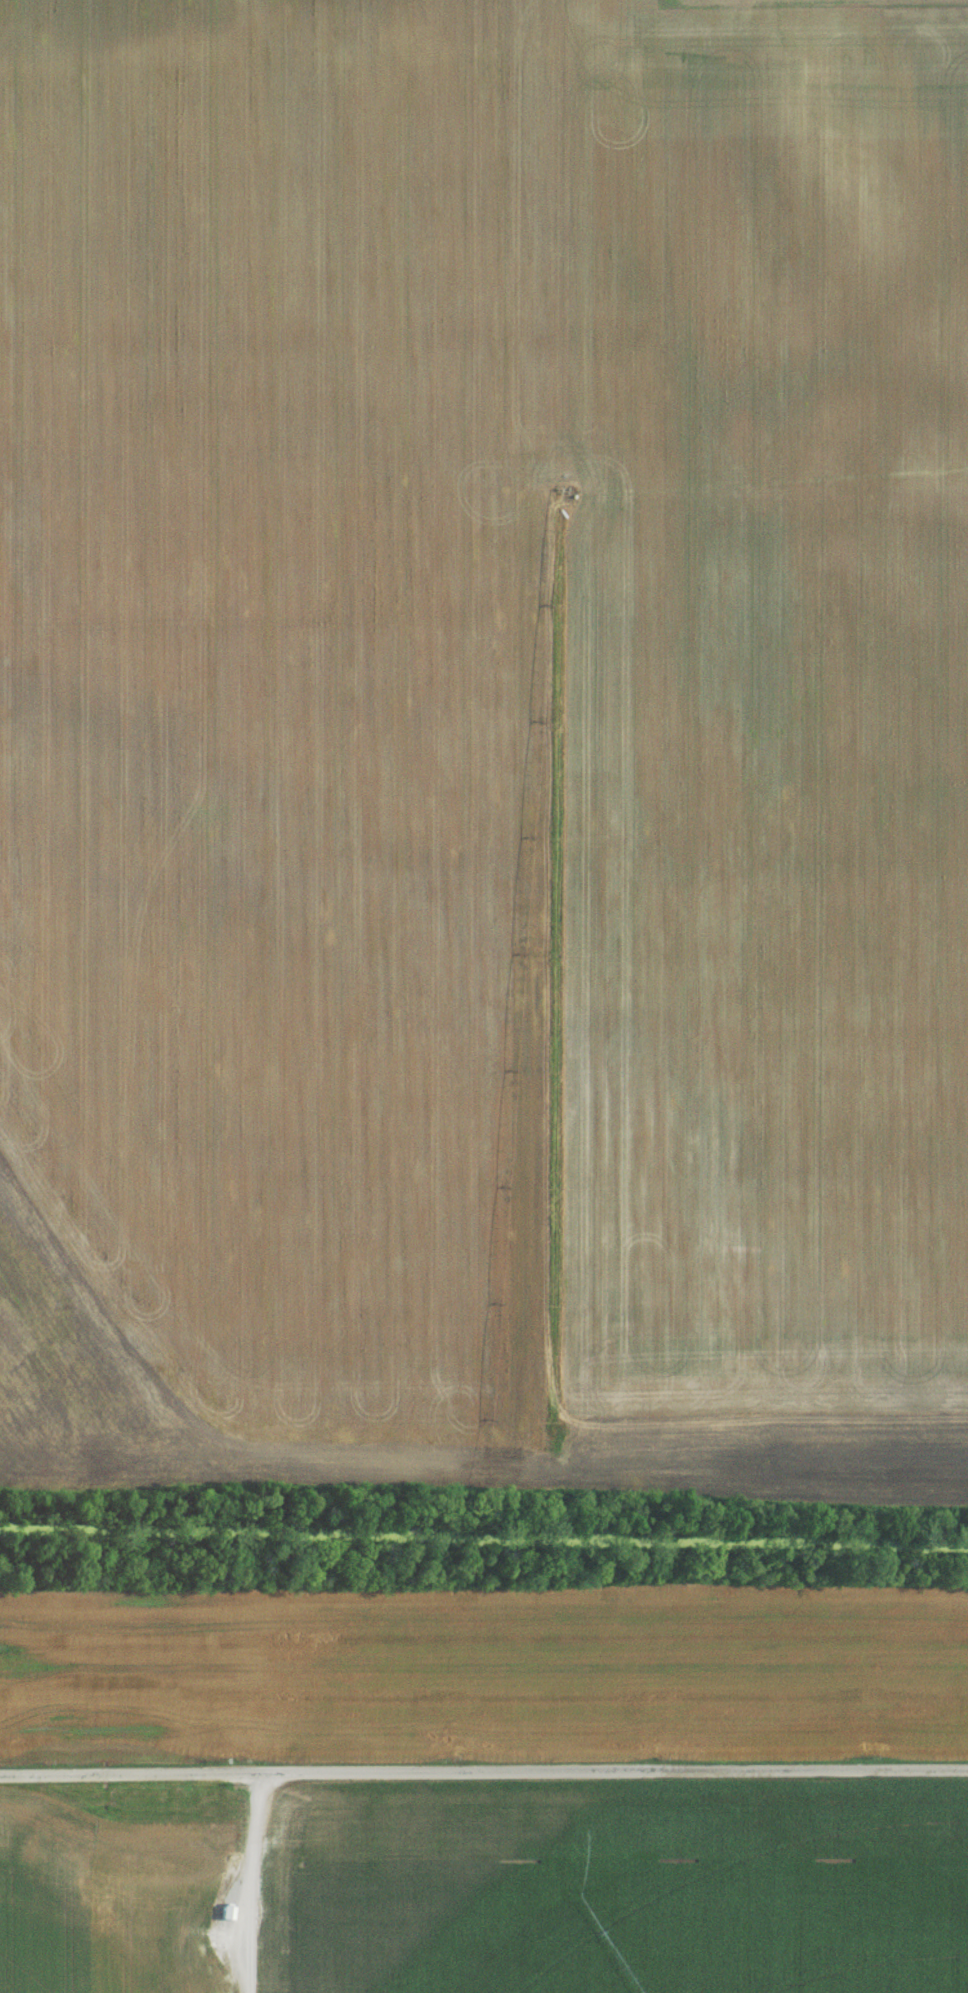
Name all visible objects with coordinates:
road: (484, 1791)

